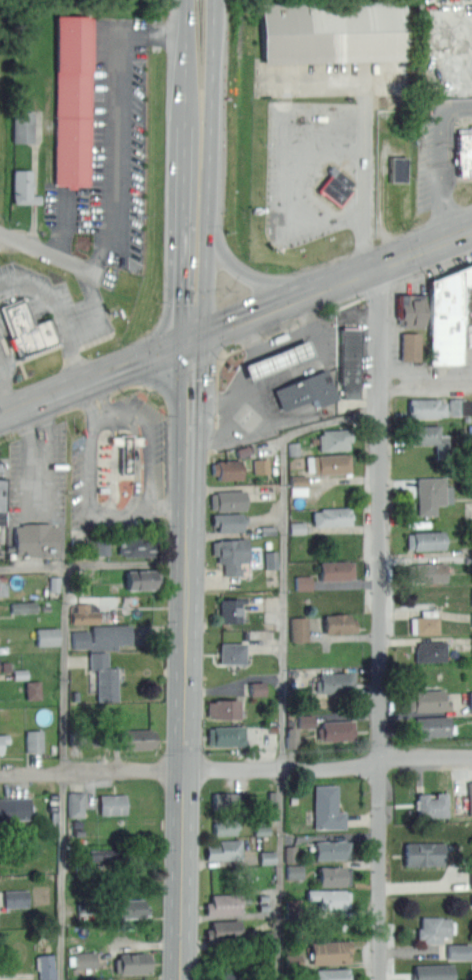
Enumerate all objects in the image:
building: (332, 30)
road: (186, 61)
building: (72, 100)
road: (455, 104)
park: (6, 110)
building: (385, 116)
road: (114, 118)
building: (24, 125)
road: (452, 151)
parking lot: (440, 152)
building: (464, 156)
parking lot: (107, 157)
road: (291, 163)
road: (210, 170)
parking lot: (318, 170)
building: (398, 170)
road: (365, 174)
road: (441, 175)
building: (22, 186)
building: (338, 188)
road: (381, 199)
road: (469, 204)
road: (446, 214)
road: (65, 224)
road: (411, 228)
road: (183, 231)
road: (371, 244)
road: (55, 255)
road: (319, 263)
road: (433, 266)
road: (243, 275)
road: (46, 289)
road: (378, 289)
road: (24, 290)
road: (349, 302)
parking lot: (58, 308)
building: (415, 309)
road: (98, 312)
building: (451, 312)
road: (317, 315)
road: (235, 321)
road: (281, 330)
building: (29, 331)
road: (284, 339)
road: (252, 341)
building: (411, 344)
road: (9, 349)
road: (34, 355)
parking lot: (6, 356)
building: (280, 358)
building: (349, 358)
road: (72, 359)
road: (219, 359)
road: (5, 366)
parking lot: (434, 373)
road: (270, 377)
road: (426, 379)
parking lot: (282, 383)
building: (307, 389)
road: (7, 394)
road: (103, 396)
road: (216, 400)
road: (89, 402)
building: (460, 405)
building: (428, 406)
building: (467, 417)
road: (216, 418)
road: (190, 425)
road: (247, 426)
road: (91, 427)
building: (470, 431)
road: (214, 436)
building: (334, 438)
building: (434, 438)
building: (293, 447)
building: (126, 449)
building: (242, 449)
road: (40, 460)
building: (335, 462)
building: (309, 463)
building: (261, 464)
building: (227, 467)
parking lot: (119, 468)
building: (273, 469)
road: (3, 471)
building: (299, 484)
road: (206, 490)
parking lot: (37, 492)
building: (431, 493)
building: (229, 499)
building: (4, 501)
parking lot: (4, 506)
road: (166, 508)
building: (468, 509)
building: (333, 515)
building: (229, 520)
building: (297, 526)
building: (266, 530)
road: (1, 537)
road: (187, 538)
building: (428, 538)
building: (34, 539)
building: (265, 543)
building: (103, 545)
building: (134, 546)
building: (231, 552)
building: (271, 558)
road: (93, 564)
building: (339, 569)
building: (433, 570)
building: (141, 578)
building: (303, 581)
building: (55, 585)
building: (471, 595)
building: (25, 606)
building: (232, 608)
building: (83, 614)
building: (471, 618)
building: (426, 621)
building: (342, 622)
road: (379, 622)
building: (298, 627)
building: (48, 635)
building: (101, 636)
building: (430, 650)
building: (234, 651)
road: (283, 659)
building: (0, 667)
road: (65, 668)
building: (104, 676)
building: (338, 680)
building: (254, 686)
building: (33, 688)
building: (431, 699)
building: (470, 699)
building: (224, 707)
building: (306, 719)
building: (433, 724)
building: (339, 728)
building: (226, 734)
building: (291, 735)
building: (137, 738)
building: (3, 739)
building: (34, 740)
road: (236, 768)
road: (182, 771)
building: (292, 799)
building: (225, 801)
building: (76, 803)
building: (112, 803)
building: (431, 804)
building: (327, 806)
building: (15, 808)
building: (225, 825)
building: (226, 848)
building: (332, 848)
building: (289, 852)
building: (424, 852)
building: (107, 853)
building: (267, 855)
building: (294, 870)
building: (333, 874)
road: (63, 875)
building: (262, 896)
building: (17, 897)
building: (330, 897)
building: (471, 898)
building: (225, 902)
building: (263, 905)
building: (291, 906)
building: (132, 907)
building: (434, 927)
building: (226, 929)
building: (458, 950)
building: (332, 951)
building: (82, 958)
building: (132, 962)
building: (45, 966)
building: (434, 971)
building: (332, 973)
building: (27, 979)
building: (139, 979)

